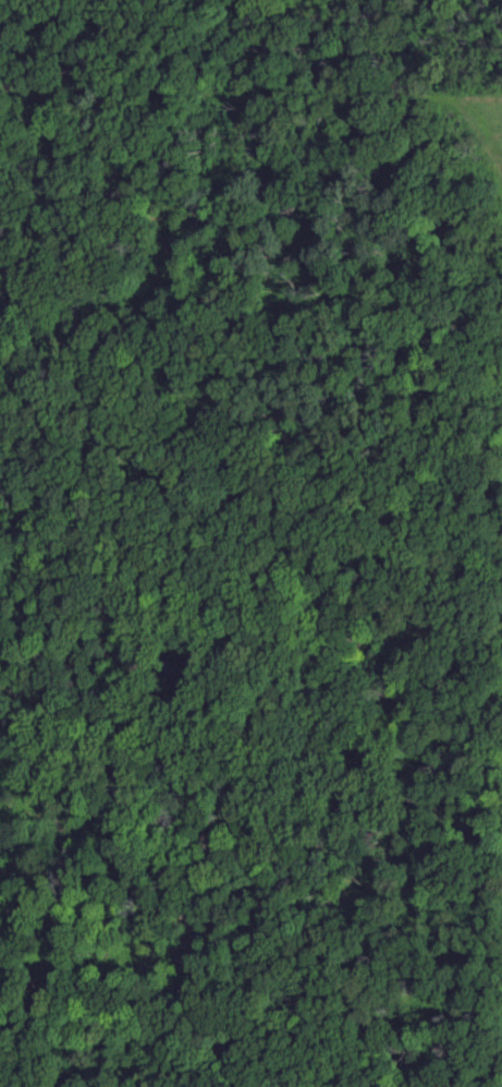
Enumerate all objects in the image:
crop: (250, 543)

